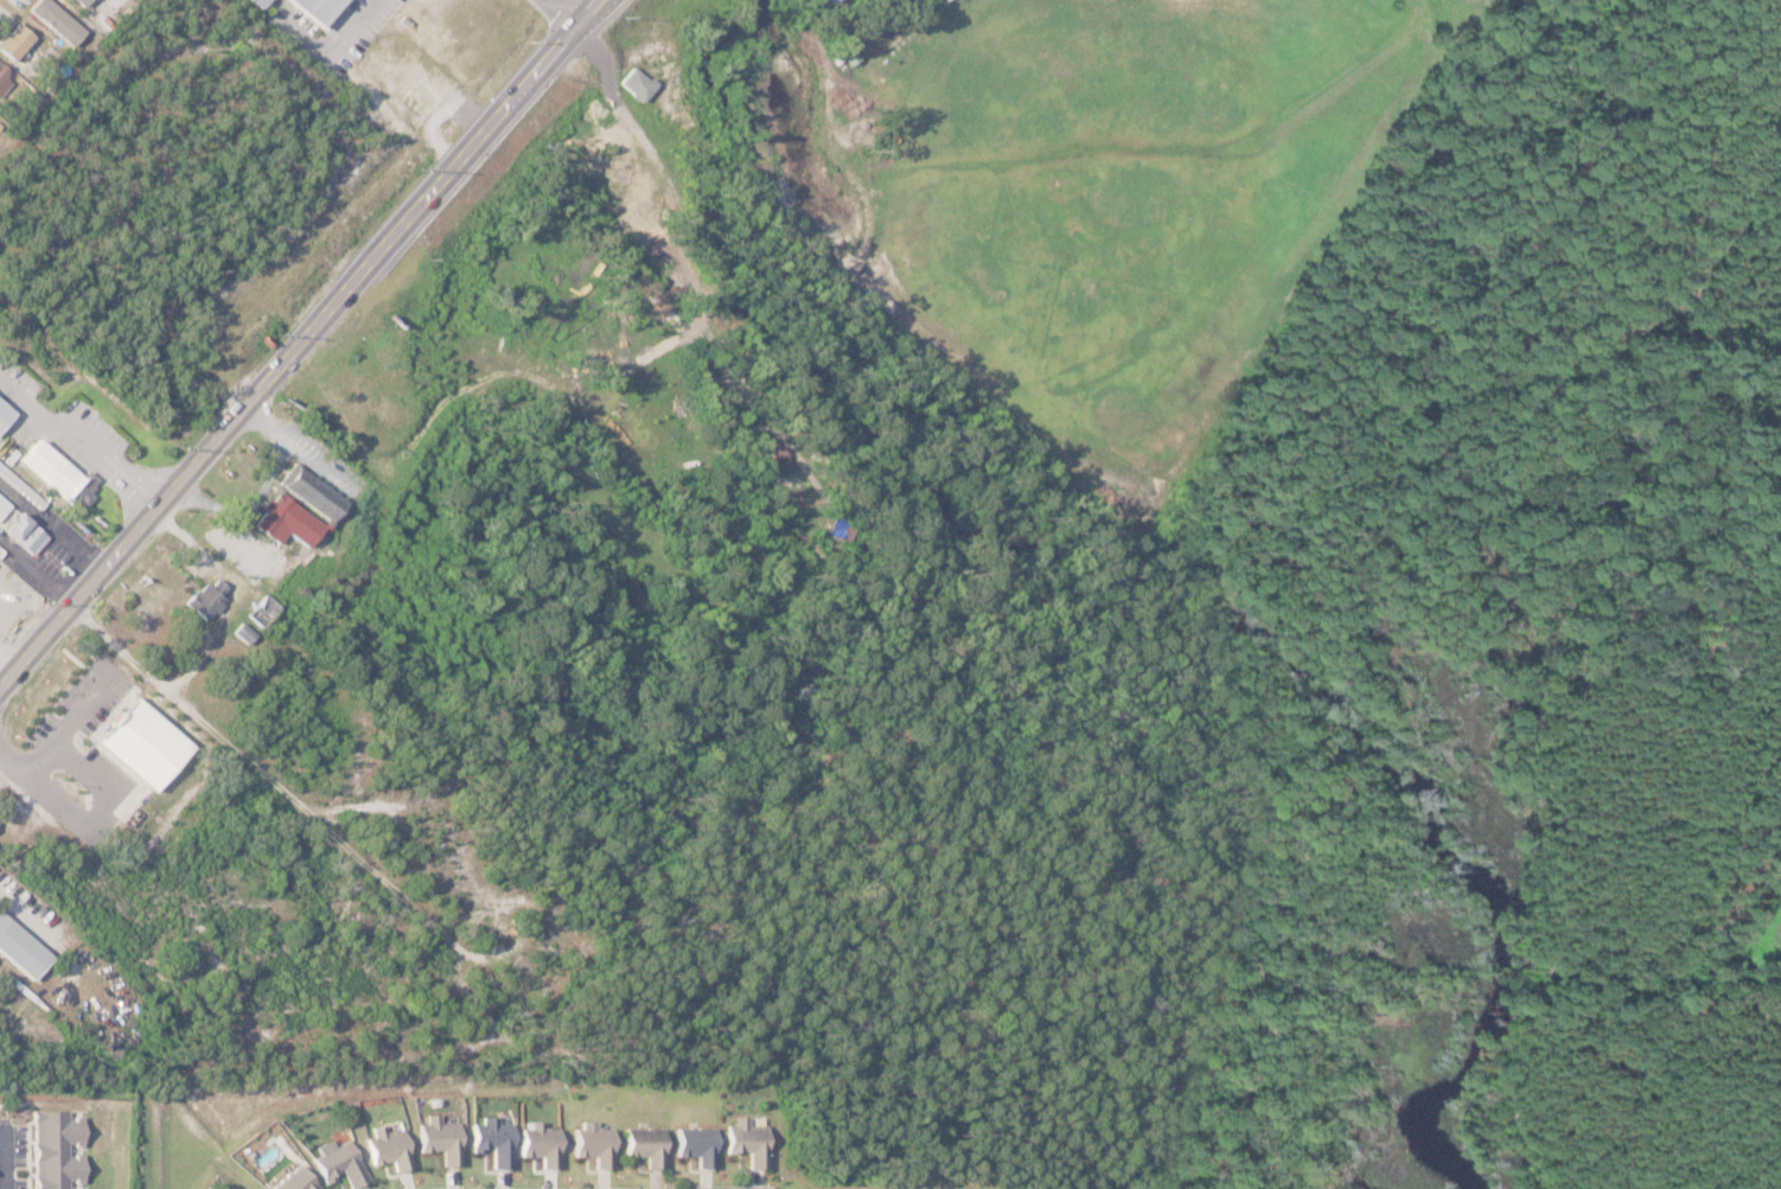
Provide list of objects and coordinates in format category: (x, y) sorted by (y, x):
building: (832, 1)
building: (260, 2)
building: (320, 9)
road: (560, 17)
building: (649, 28)
road: (332, 47)
building: (845, 53)
building: (0, 77)
road: (502, 94)
road: (619, 98)
road: (521, 100)
building: (415, 101)
building: (660, 312)
building: (4, 417)
road: (212, 439)
road: (78, 441)
building: (56, 475)
building: (306, 494)
building: (2, 506)
building: (283, 524)
road: (50, 526)
building: (20, 535)
road: (37, 568)
building: (209, 599)
building: (261, 614)
building: (243, 634)
building: (350, 660)
road: (5, 669)
building: (439, 824)
power plant: (1602, 867)
road: (42, 933)
building: (20, 951)
building: (18, 989)
building: (439, 1140)
building: (746, 1143)
building: (644, 1146)
building: (55, 1148)
building: (388, 1149)
road: (7, 1157)
building: (339, 1163)
building: (296, 1181)

